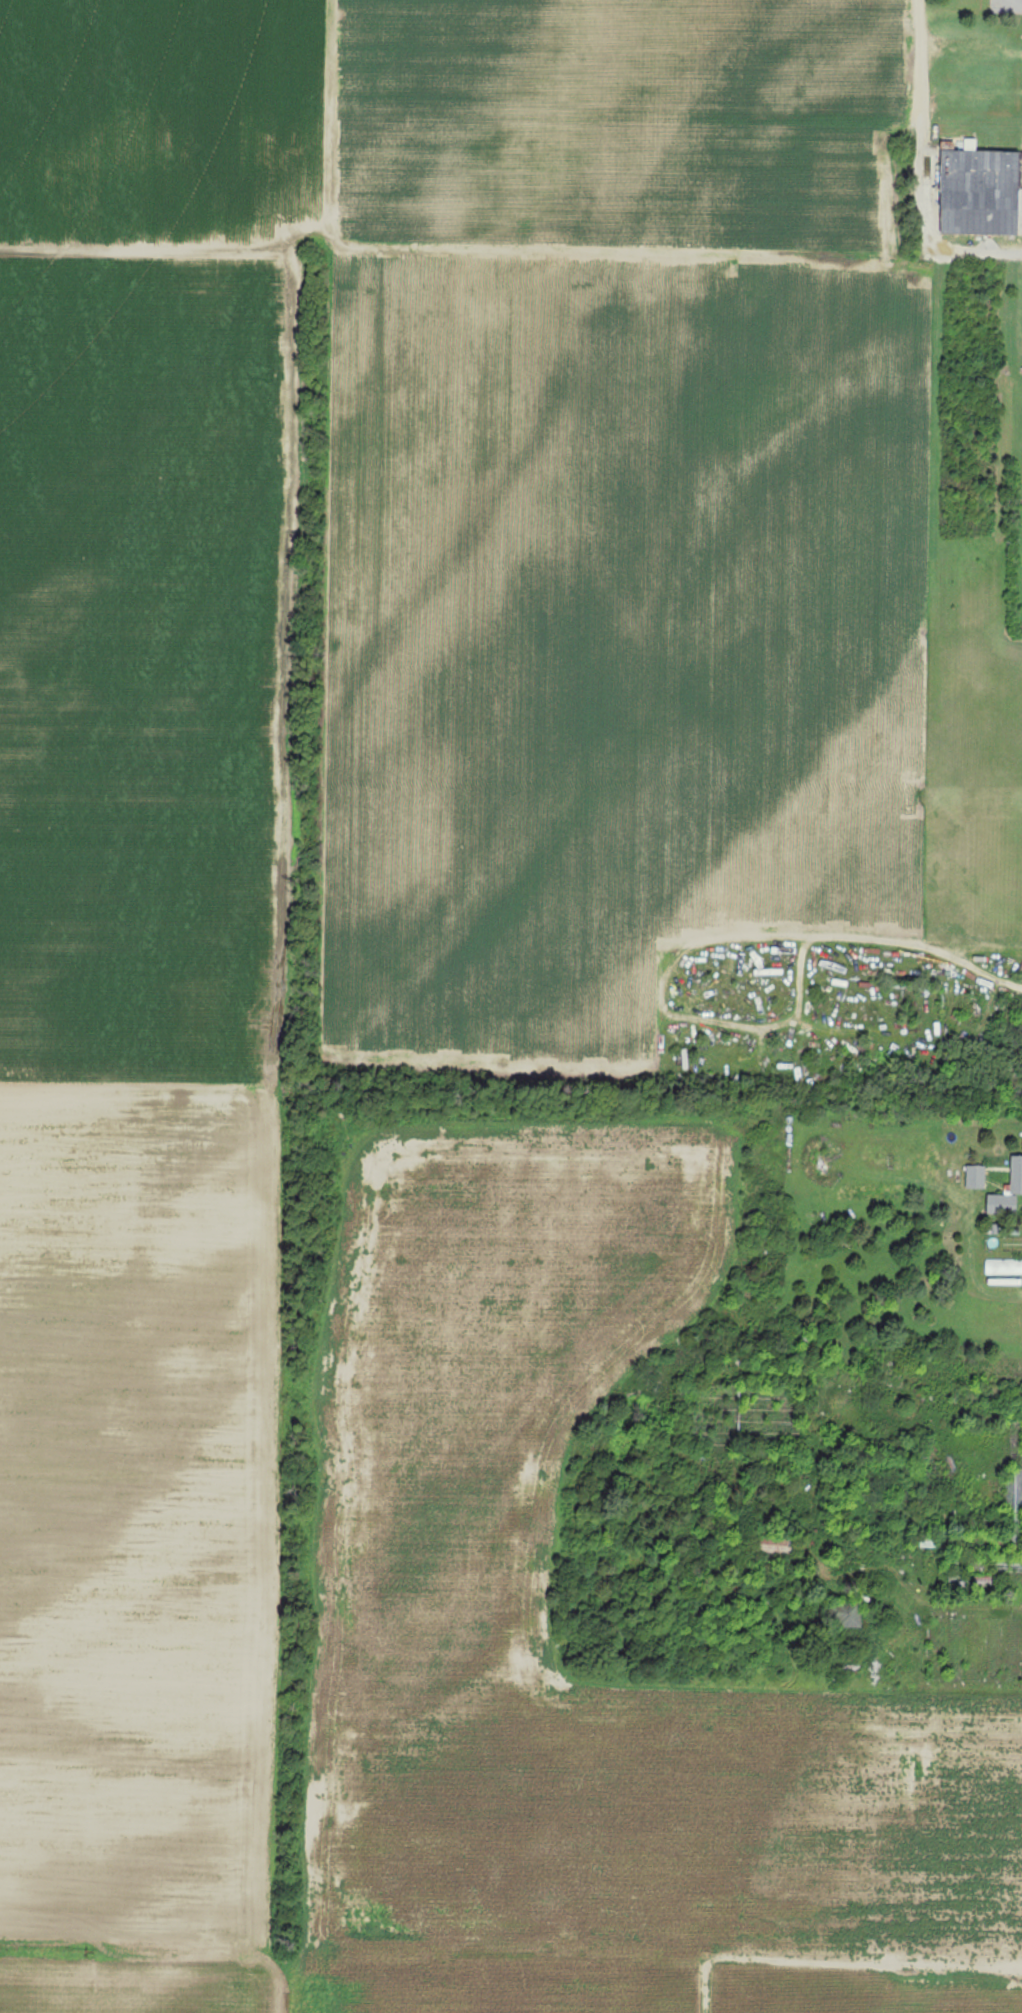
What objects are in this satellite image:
road: (919, 124)
building: (983, 190)
road: (972, 251)
road: (1020, 301)
building: (1017, 1173)
building: (977, 1174)
building: (1004, 1202)
building: (1004, 1265)
building: (1015, 1501)
building: (930, 1538)
building: (777, 1543)
building: (986, 1560)
building: (971, 1578)
road: (974, 1604)
building: (849, 1611)

